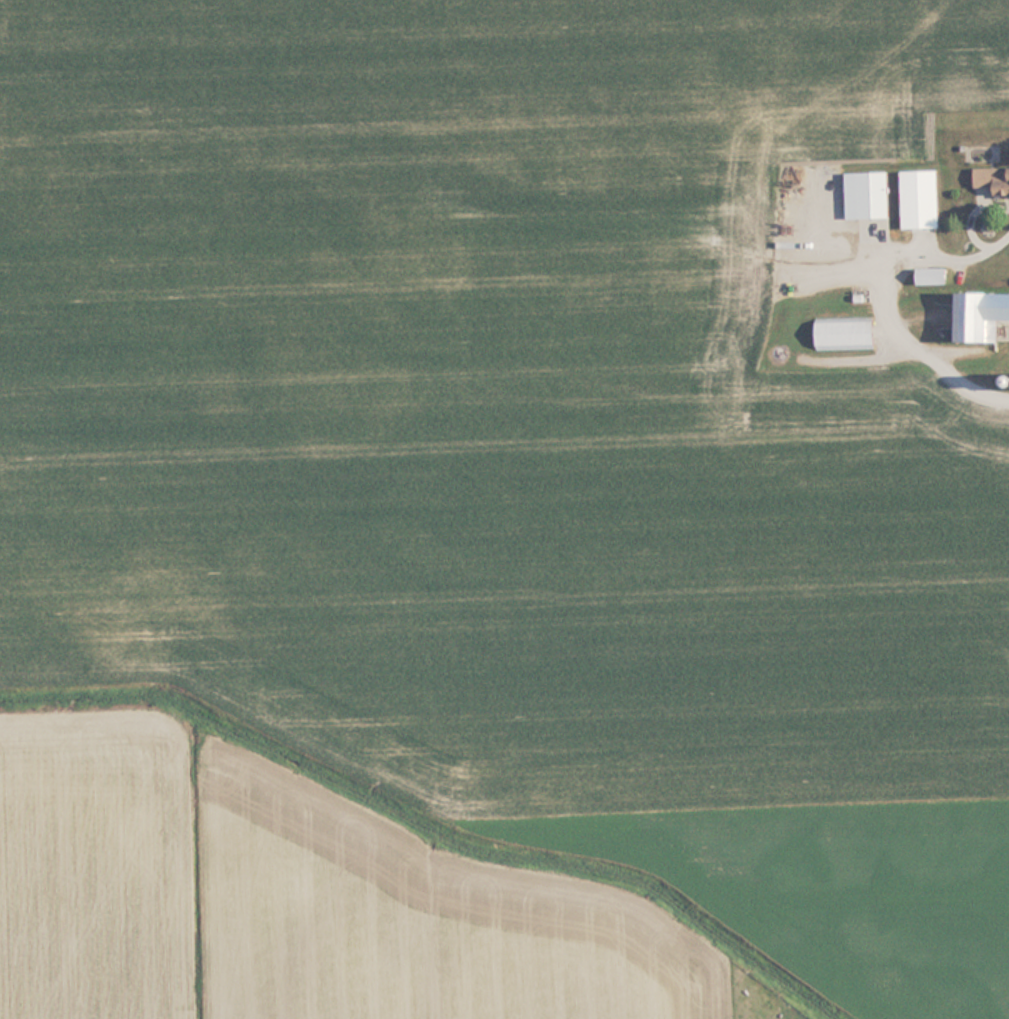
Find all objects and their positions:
building: (994, 180)
building: (870, 194)
building: (922, 199)
building: (933, 275)
building: (982, 315)
building: (847, 333)

